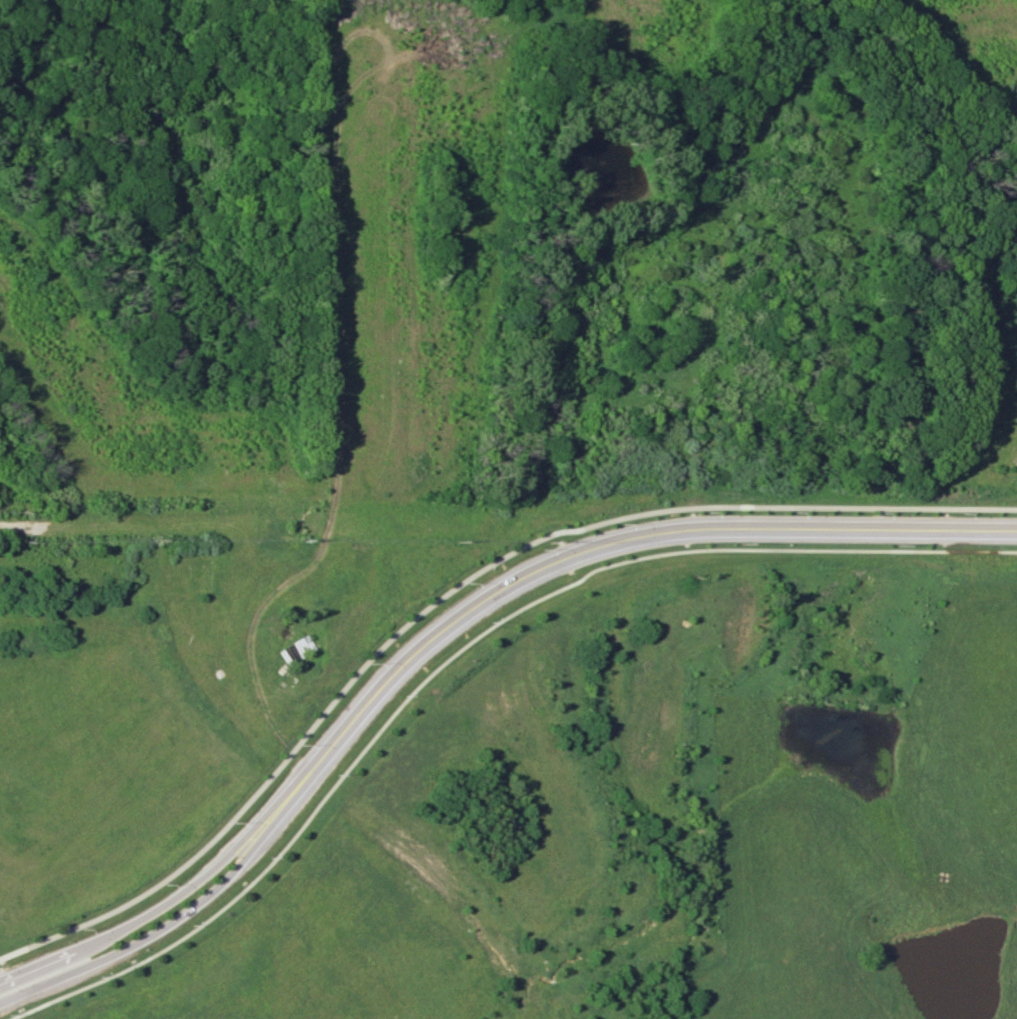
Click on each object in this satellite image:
road: (581, 552)
road: (135, 919)
road: (142, 938)

